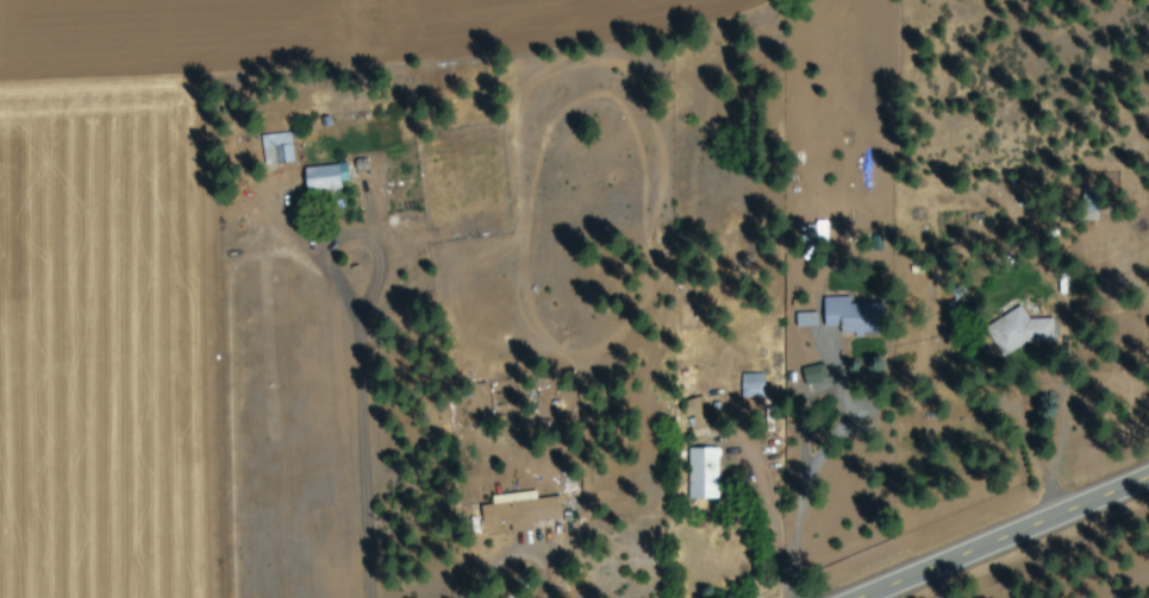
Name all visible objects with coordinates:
building: (276, 150)
building: (324, 180)
road: (918, 287)
building: (851, 317)
building: (806, 321)
building: (1018, 332)
building: (812, 376)
building: (751, 388)
building: (702, 474)
building: (520, 514)
road: (1010, 540)

